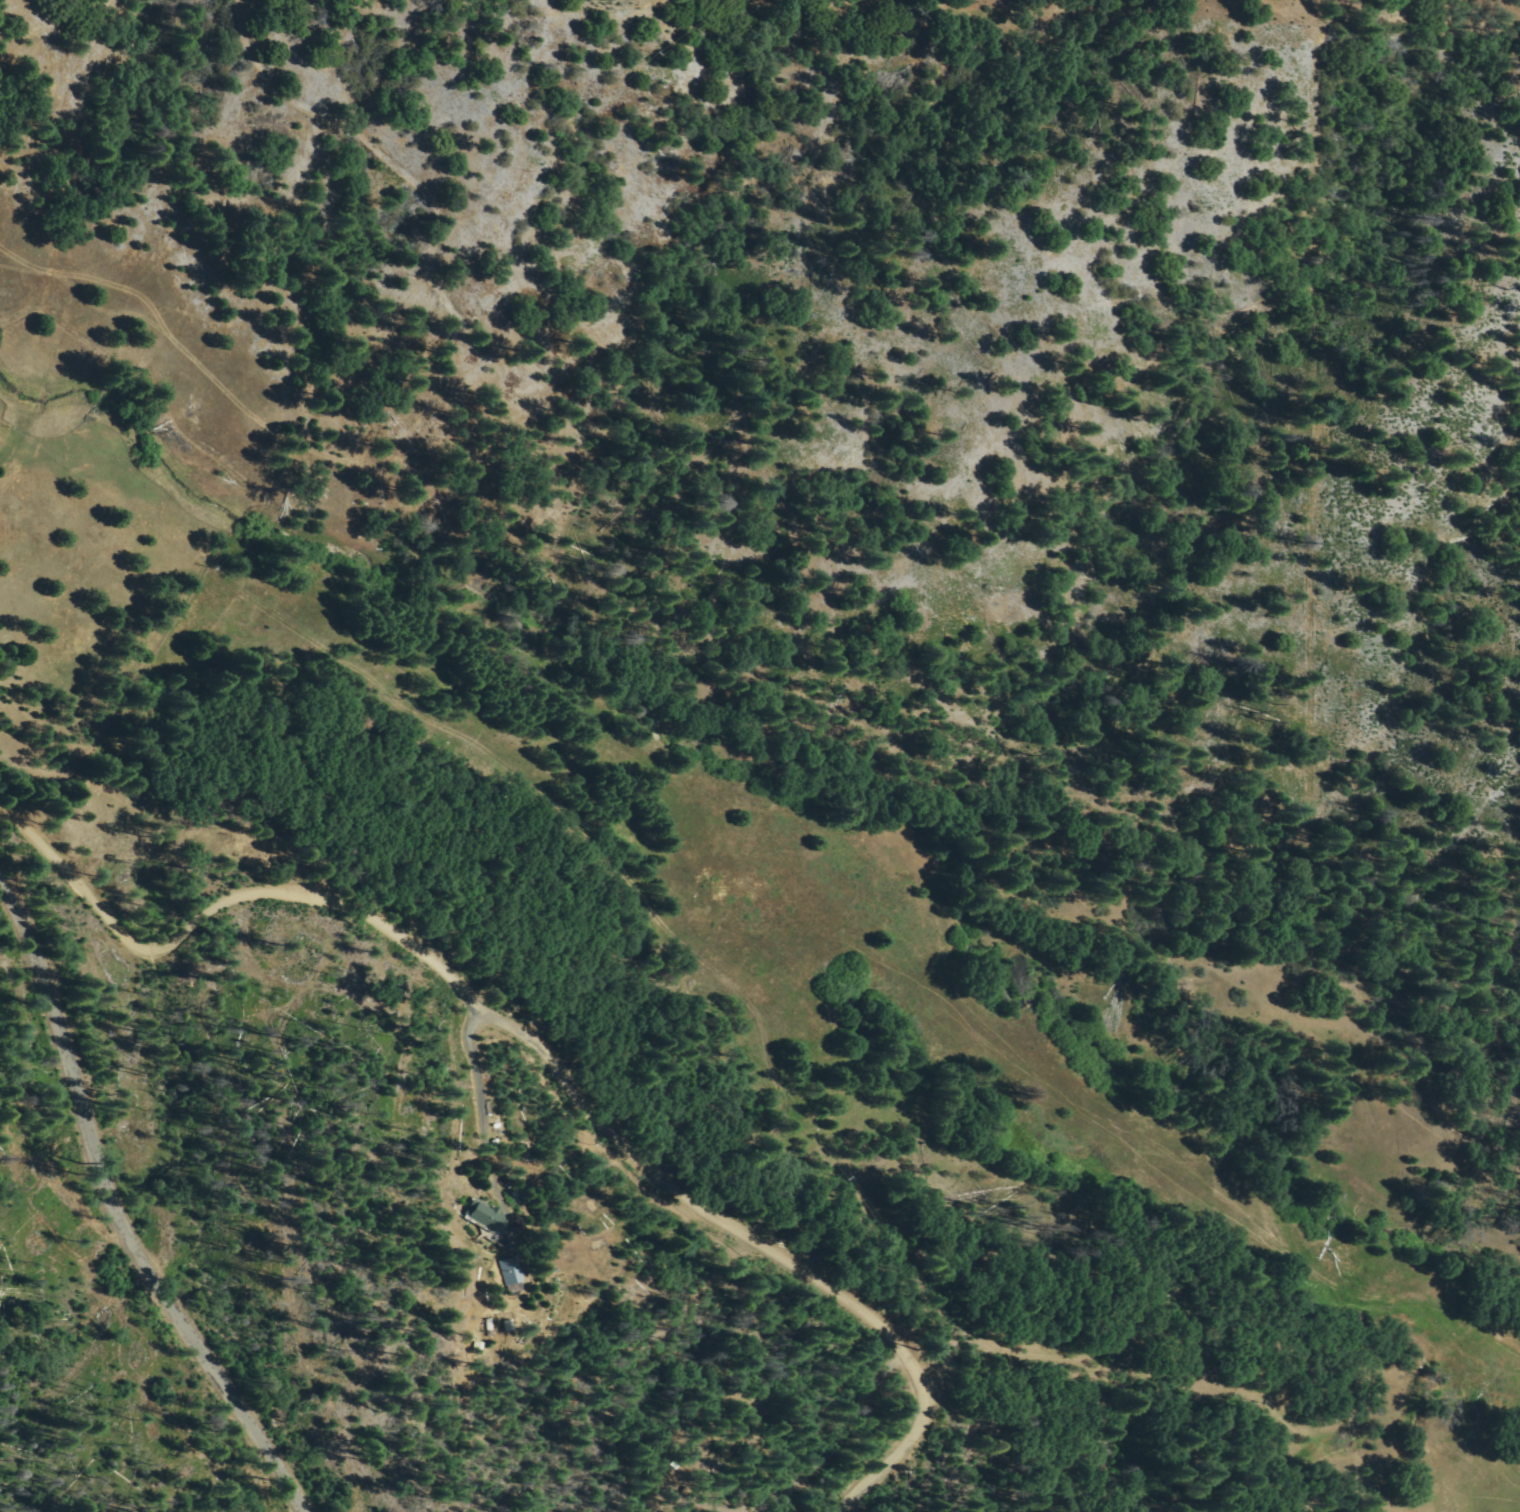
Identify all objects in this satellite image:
road: (466, 1029)
building: (492, 1217)
road: (92, 1242)
building: (517, 1270)
building: (483, 1347)
road: (1016, 1368)
road: (913, 1445)
road: (831, 1468)

